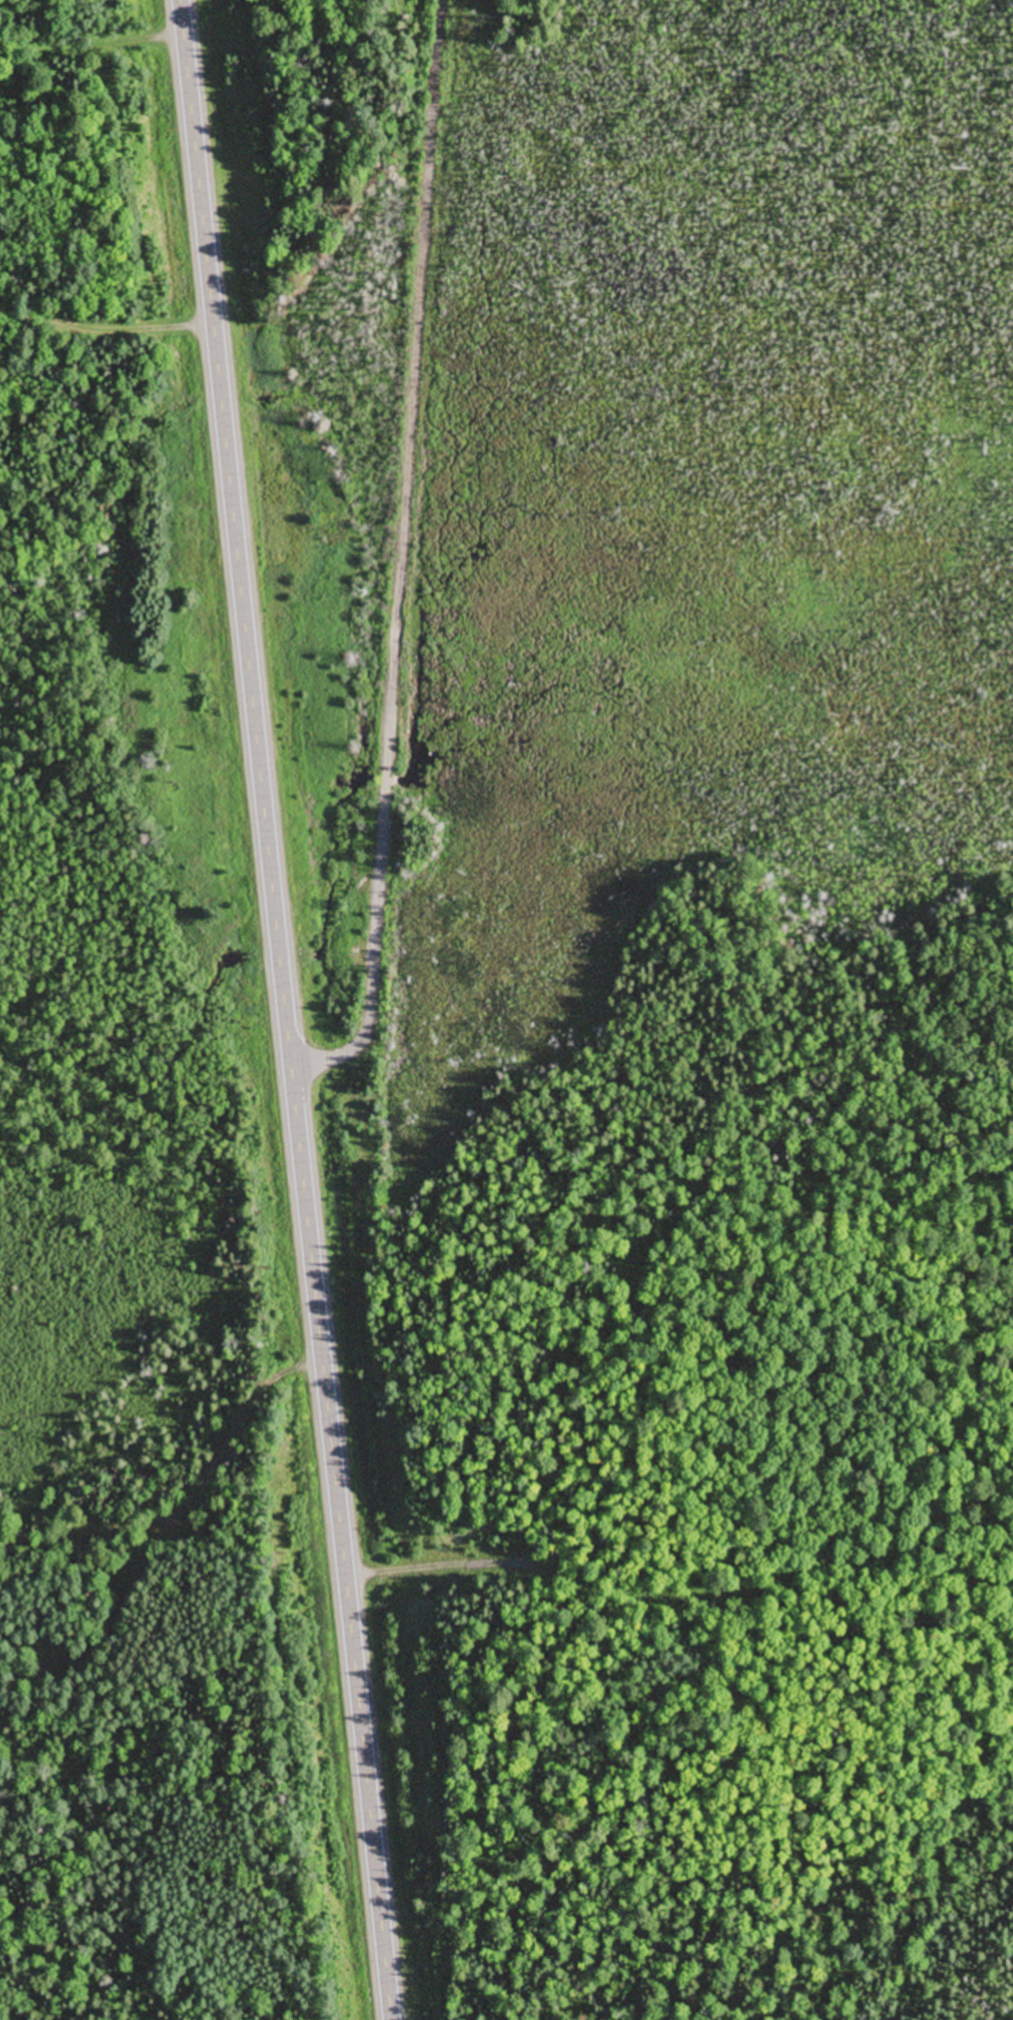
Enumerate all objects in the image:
road: (403, 560)
road: (286, 1009)

